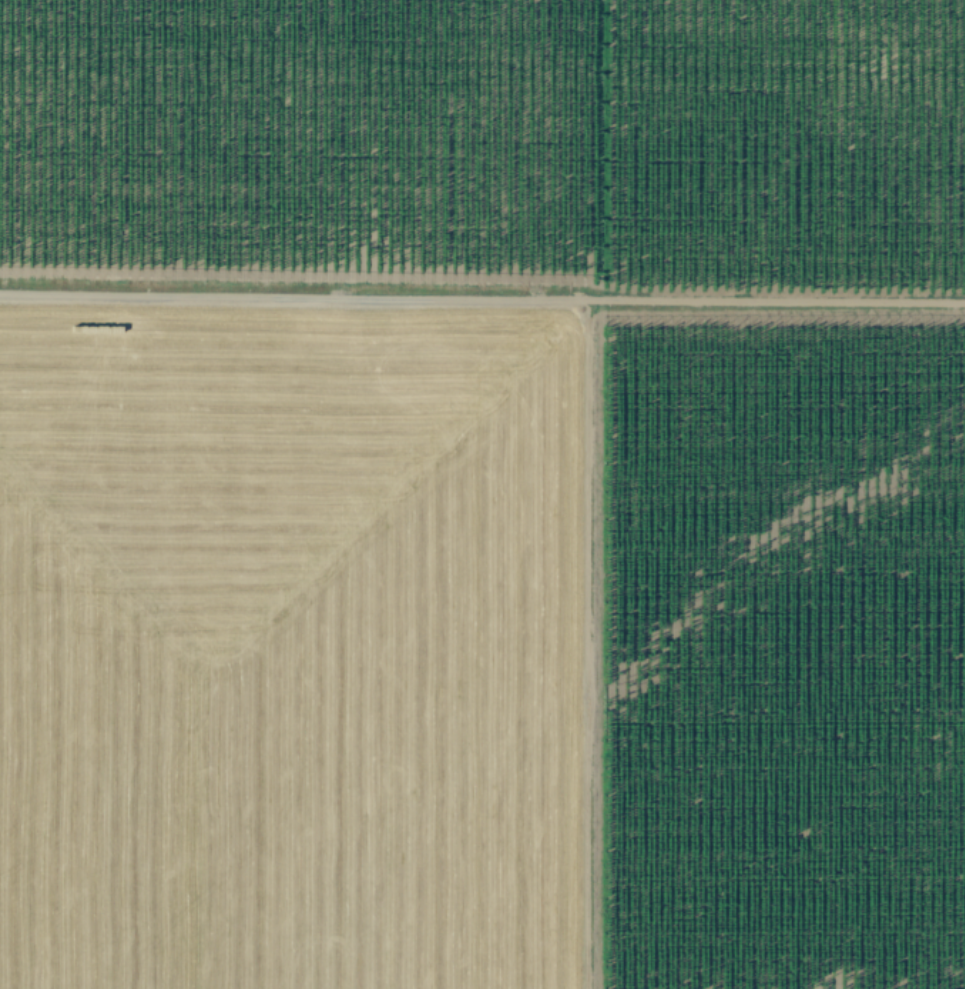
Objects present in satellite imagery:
crop: (369, 439)

